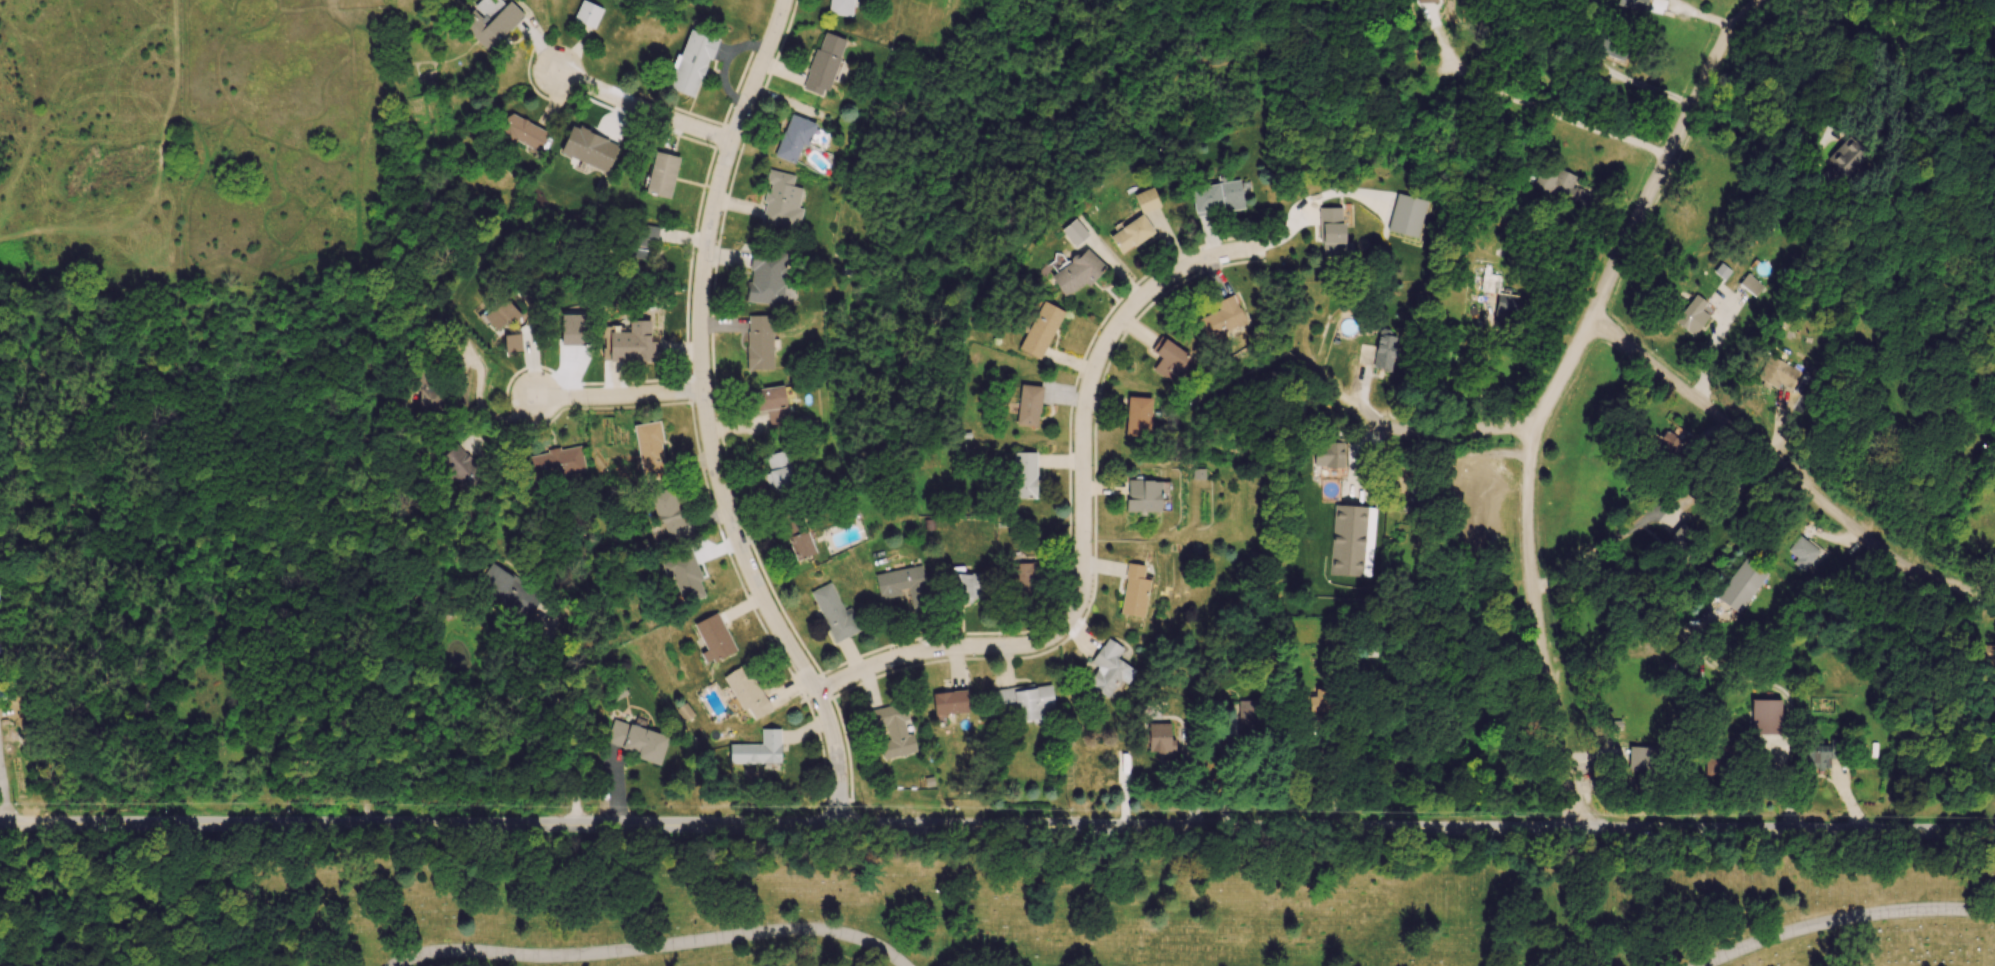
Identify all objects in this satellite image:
building: (1427, 1)
building: (1633, 4)
building: (841, 7)
road: (1980, 13)
building: (588, 14)
building: (490, 21)
building: (692, 61)
building: (824, 64)
park: (1139, 64)
road: (1646, 86)
road: (1900, 106)
road: (642, 108)
road: (1549, 111)
building: (523, 132)
building: (793, 138)
building: (589, 148)
building: (1847, 156)
building: (662, 175)
building: (1560, 185)
building: (1217, 197)
building: (782, 200)
building: (1406, 215)
building: (1135, 223)
building: (1074, 232)
building: (1333, 235)
building: (640, 240)
building: (1077, 272)
building: (767, 278)
building: (1490, 283)
building: (1751, 285)
building: (1505, 306)
building: (501, 313)
building: (1692, 315)
building: (1224, 319)
building: (1040, 330)
building: (512, 342)
building: (759, 342)
building: (631, 344)
road: (1713, 346)
building: (1379, 352)
building: (1169, 359)
road: (1095, 365)
building: (1777, 372)
road: (1553, 392)
road: (618, 395)
building: (459, 397)
building: (429, 398)
building: (770, 404)
building: (1028, 405)
building: (1137, 416)
road: (707, 420)
road: (1439, 428)
building: (1670, 446)
building: (650, 450)
road: (1465, 453)
building: (1329, 455)
building: (556, 463)
building: (461, 467)
road: (1784, 470)
building: (779, 471)
building: (1199, 472)
building: (1024, 475)
road: (1103, 486)
building: (1143, 495)
building: (668, 512)
building: (1681, 536)
building: (1348, 540)
building: (801, 545)
building: (1802, 552)
road: (1590, 555)
building: (684, 576)
building: (1021, 578)
building: (903, 584)
building: (1740, 584)
building: (510, 591)
building: (1134, 591)
building: (834, 613)
building: (713, 639)
road: (963, 646)
building: (1108, 669)
building: (746, 691)
building: (950, 702)
building: (1024, 702)
building: (684, 712)
building: (1246, 718)
building: (1763, 718)
road: (564, 725)
building: (893, 729)
building: (1159, 737)
building: (637, 740)
building: (758, 749)
building: (1816, 756)
building: (1640, 758)
building: (1712, 764)
road: (1327, 776)
road: (2, 799)
road: (997, 825)
park: (982, 900)
road: (1844, 919)
road: (652, 947)

